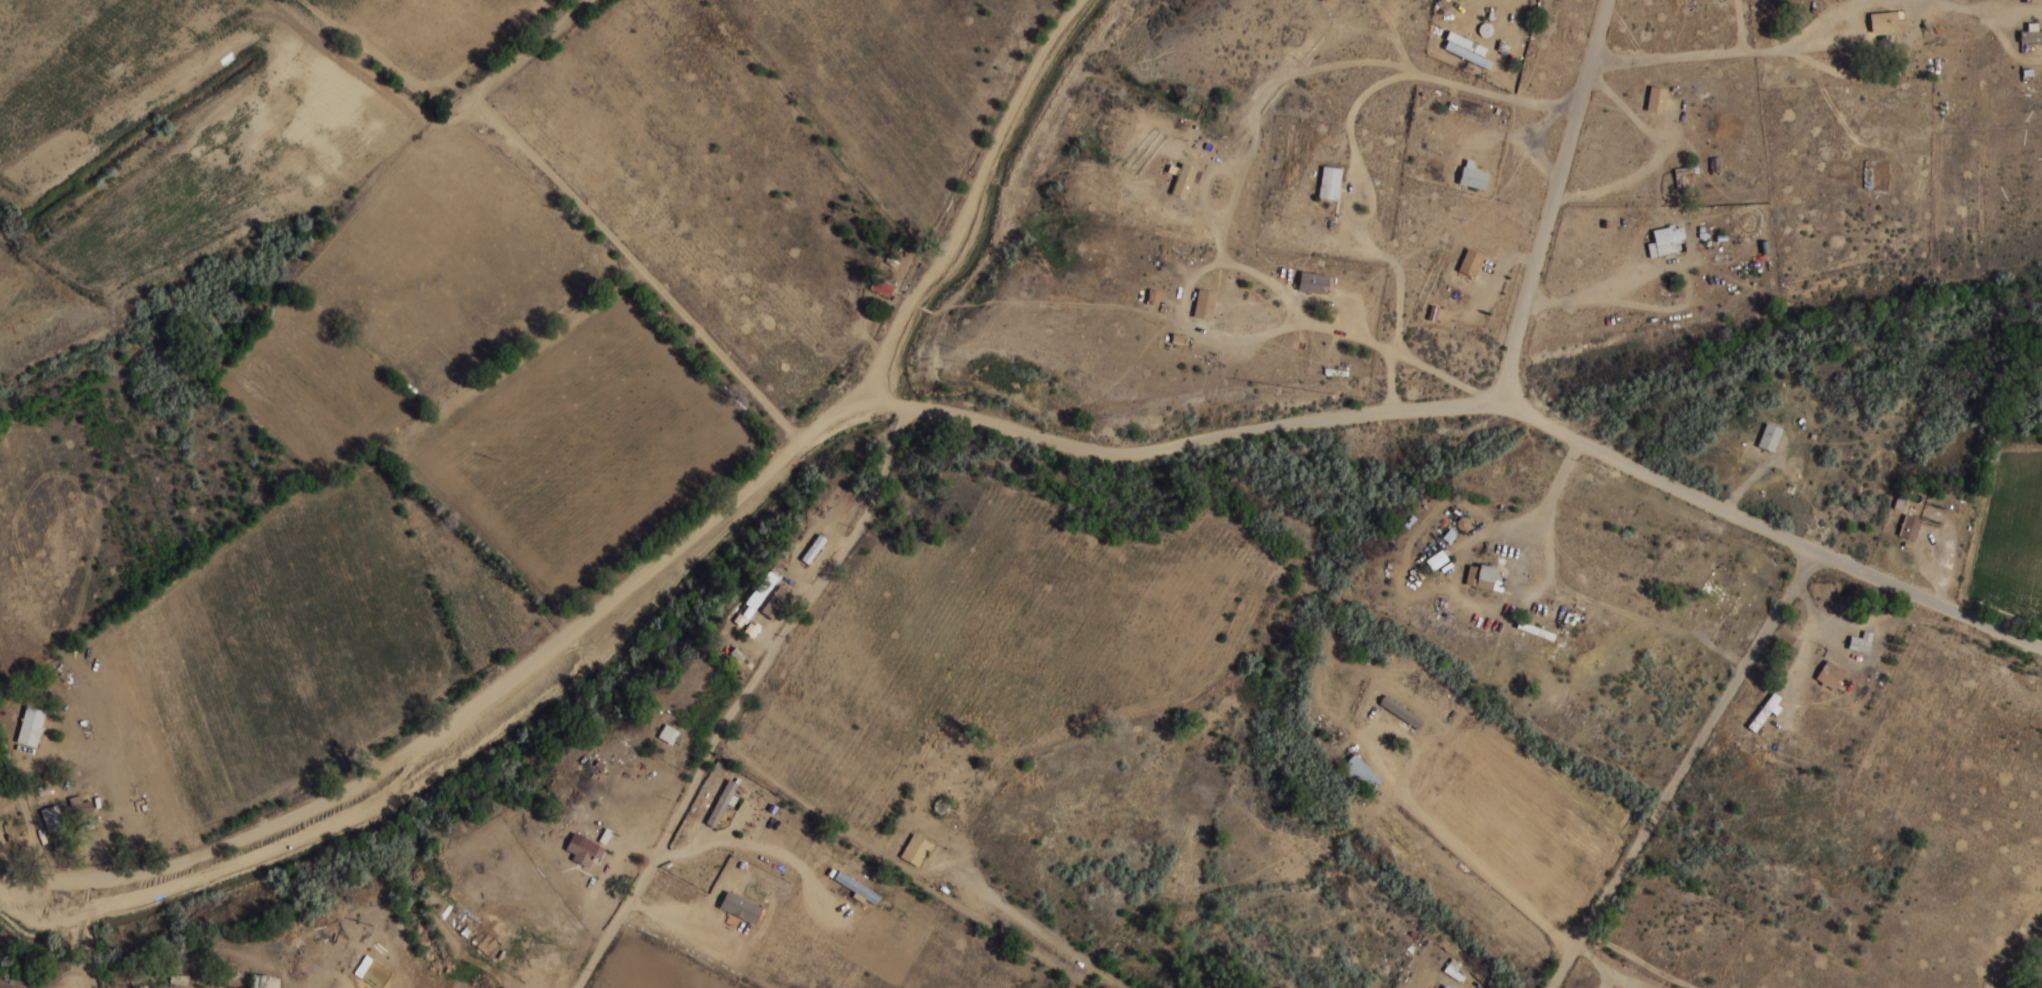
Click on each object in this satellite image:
building: (1331, 1)
building: (1887, 22)
building: (2030, 36)
building: (1657, 100)
building: (1867, 178)
building: (1681, 181)
building: (1330, 183)
road: (966, 200)
road: (1553, 203)
road: (581, 209)
building: (1668, 242)
building: (1471, 262)
building: (1314, 283)
building: (881, 287)
building: (1152, 297)
building: (1204, 304)
road: (1527, 417)
building: (1770, 437)
building: (1910, 527)
building: (813, 549)
building: (1502, 549)
building: (1437, 561)
building: (1488, 573)
building: (777, 602)
building: (1728, 620)
building: (1861, 642)
building: (1830, 676)
road: (510, 677)
road: (748, 698)
building: (1764, 713)
building: (1410, 717)
building: (31, 727)
building: (668, 735)
road: (1679, 767)
building: (1362, 774)
building: (721, 803)
building: (82, 808)
building: (52, 818)
building: (582, 850)
building: (915, 850)
building: (1454, 967)
building: (260, 981)
building: (1447, 986)

